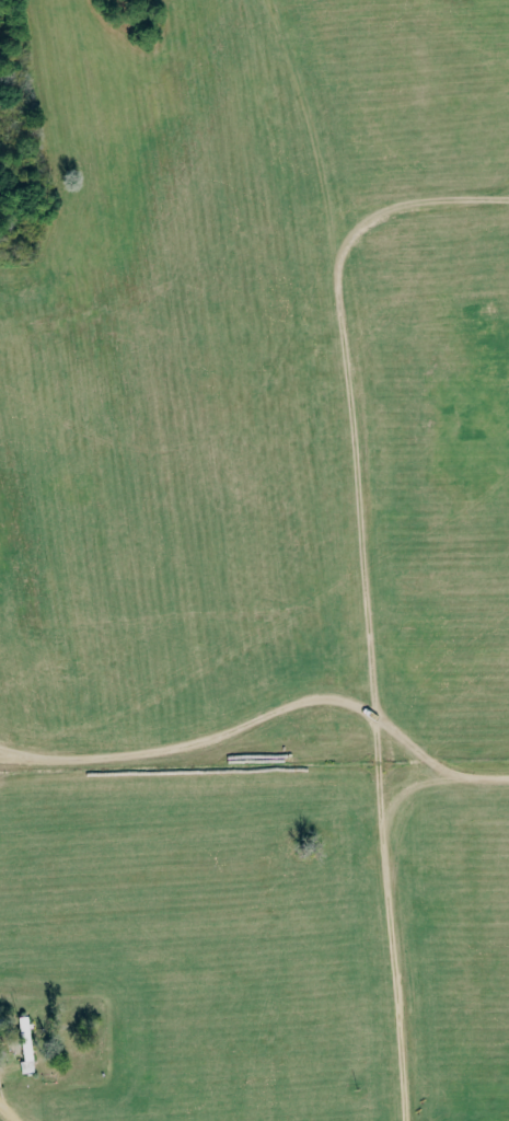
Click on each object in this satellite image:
building: (28, 1044)
road: (12, 1109)

